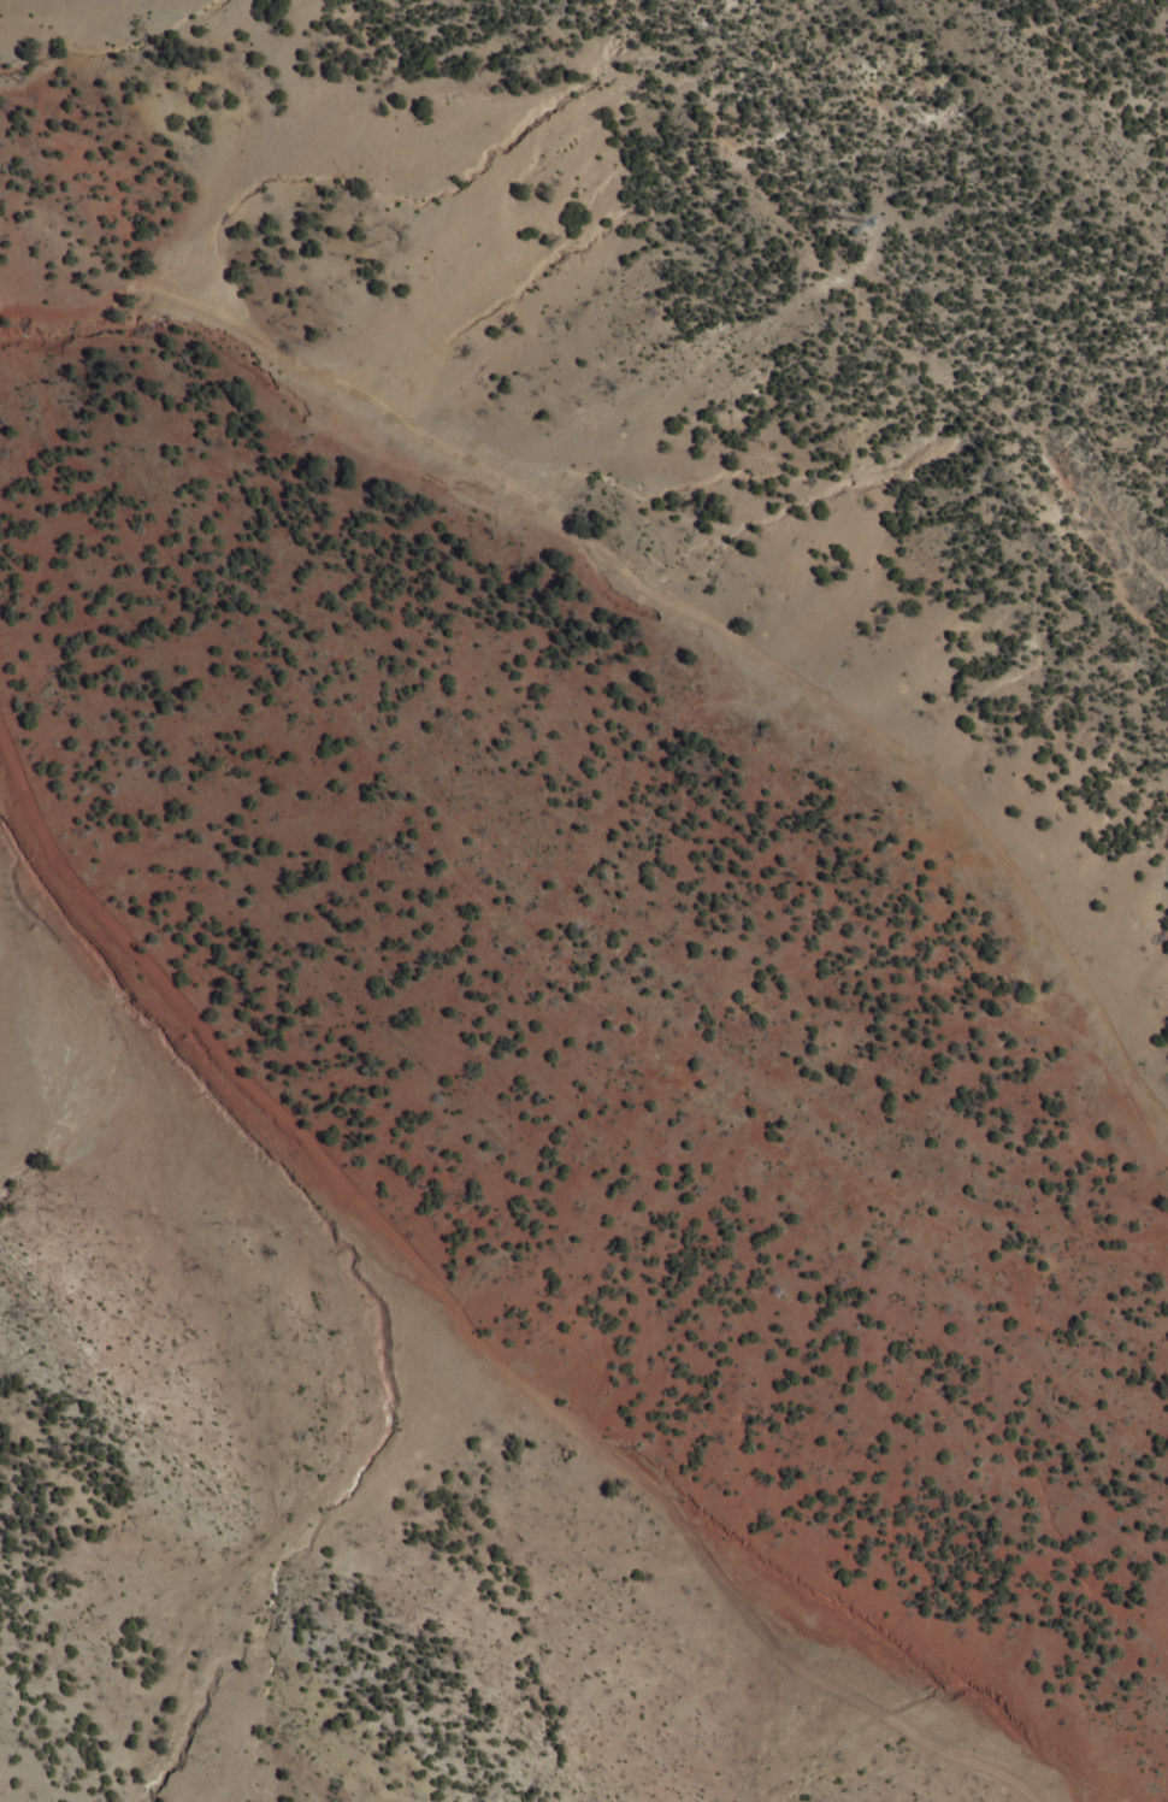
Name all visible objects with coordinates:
power tower: (869, 219)
road: (648, 599)

